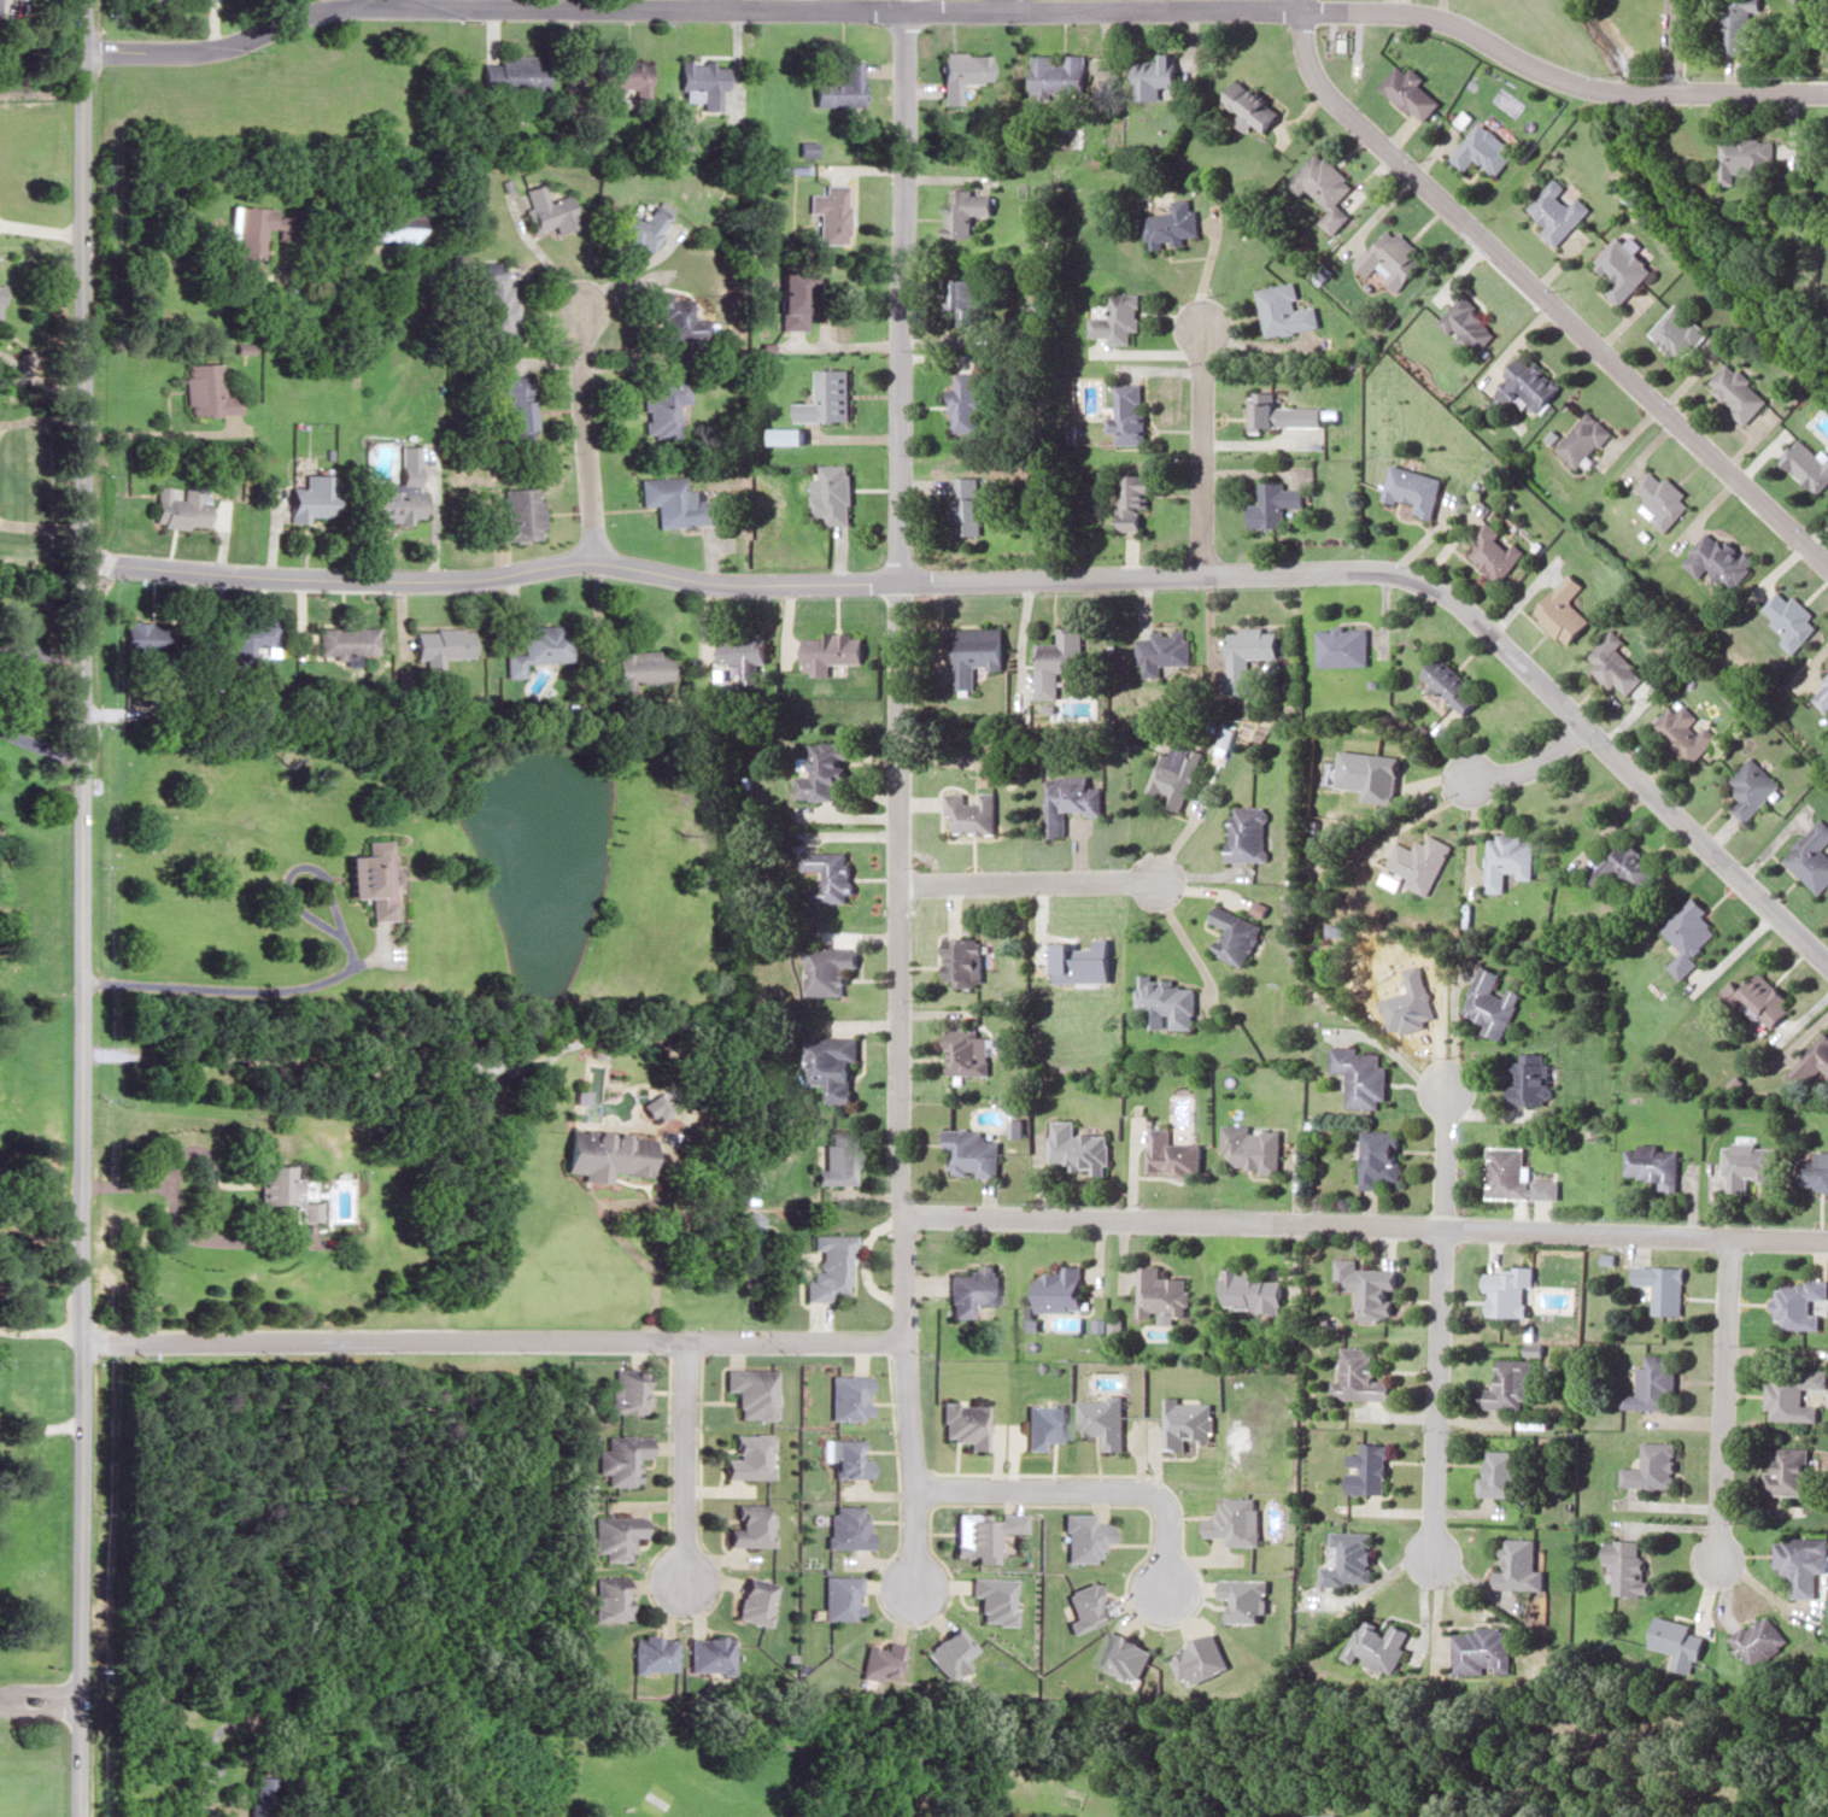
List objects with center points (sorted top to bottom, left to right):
road: (396, 2)
road: (713, 4)
road: (1001, 4)
road: (959, 8)
building: (1736, 27)
road: (1674, 46)
building: (953, 71)
building: (504, 75)
building: (1054, 75)
building: (1153, 77)
building: (699, 80)
building: (614, 81)
building: (836, 88)
building: (1407, 92)
building: (1246, 105)
building: (1481, 148)
building: (1744, 156)
building: (1322, 187)
building: (540, 207)
building: (961, 211)
building: (1553, 211)
building: (825, 212)
building: (1170, 222)
building: (388, 225)
building: (634, 225)
building: (248, 228)
road: (40, 250)
building: (1388, 256)
building: (1619, 266)
road: (1539, 297)
building: (492, 298)
building: (786, 298)
building: (959, 298)
building: (1281, 310)
building: (672, 316)
building: (1115, 317)
building: (1463, 324)
building: (1675, 330)
building: (1523, 383)
building: (203, 389)
building: (1734, 391)
building: (822, 397)
building: (961, 402)
building: (1259, 403)
building: (662, 406)
building: (516, 410)
building: (1126, 412)
road: (587, 429)
building: (779, 435)
building: (1578, 439)
road: (1200, 445)
building: (1804, 463)
building: (827, 493)
building: (1658, 497)
building: (306, 498)
building: (391, 499)
building: (1129, 499)
building: (675, 502)
building: (962, 504)
building: (1271, 504)
building: (175, 508)
building: (516, 515)
building: (1488, 551)
building: (1715, 559)
road: (1029, 578)
building: (1557, 609)
building: (1786, 619)
building: (247, 635)
building: (141, 639)
building: (346, 641)
building: (438, 644)
building: (539, 645)
building: (1340, 646)
building: (827, 651)
building: (1159, 651)
building: (972, 653)
building: (1244, 653)
building: (740, 656)
building: (1053, 661)
building: (1609, 663)
building: (638, 666)
building: (1447, 684)
building: (1820, 692)
building: (1680, 732)
road: (1529, 767)
building: (818, 773)
building: (1173, 774)
building: (1747, 787)
road: (897, 796)
building: (1067, 801)
building: (969, 813)
building: (1246, 831)
building: (1809, 856)
building: (1505, 858)
building: (1417, 861)
building: (1619, 866)
building: (826, 874)
building: (365, 877)
road: (1027, 880)
road: (80, 908)
building: (1232, 932)
building: (1685, 934)
building: (959, 960)
building: (824, 967)
road: (330, 977)
building: (1760, 998)
building: (1166, 1002)
building: (1487, 1002)
building: (963, 1055)
road: (328, 1062)
building: (827, 1063)
building: (1812, 1063)
building: (1355, 1075)
building: (1527, 1079)
building: (1077, 1147)
building: (1249, 1147)
building: (969, 1153)
building: (1171, 1154)
building: (599, 1155)
building: (1375, 1156)
building: (832, 1159)
building: (1650, 1164)
building: (1746, 1165)
building: (1812, 1171)
building: (1502, 1172)
building: (279, 1190)
road: (1361, 1227)
building: (822, 1266)
building: (1363, 1286)
building: (1659, 1286)
building: (967, 1289)
building: (1057, 1289)
building: (1504, 1290)
building: (1247, 1291)
building: (1160, 1293)
building: (1797, 1302)
road: (1436, 1320)
road: (40, 1330)
road: (485, 1341)
building: (1355, 1376)
building: (1652, 1384)
building: (1505, 1385)
building: (626, 1390)
building: (746, 1391)
building: (1789, 1393)
building: (843, 1396)
road: (1722, 1403)
building: (957, 1423)
building: (1038, 1424)
road: (39, 1429)
building: (743, 1456)
building: (620, 1458)
building: (840, 1458)
road: (681, 1465)
building: (1650, 1467)
building: (1363, 1470)
building: (1786, 1472)
building: (1501, 1473)
road: (1085, 1491)
building: (743, 1526)
building: (840, 1526)
building: (611, 1536)
building: (1343, 1557)
building: (1799, 1561)
building: (1621, 1565)
building: (1514, 1566)
building: (605, 1598)
building: (748, 1600)
building: (1672, 1639)
building: (1756, 1639)
building: (1375, 1645)
building: (1477, 1651)
building: (649, 1653)
building: (707, 1654)
road: (39, 1698)
building: (256, 1797)
building: (1318, 1815)

